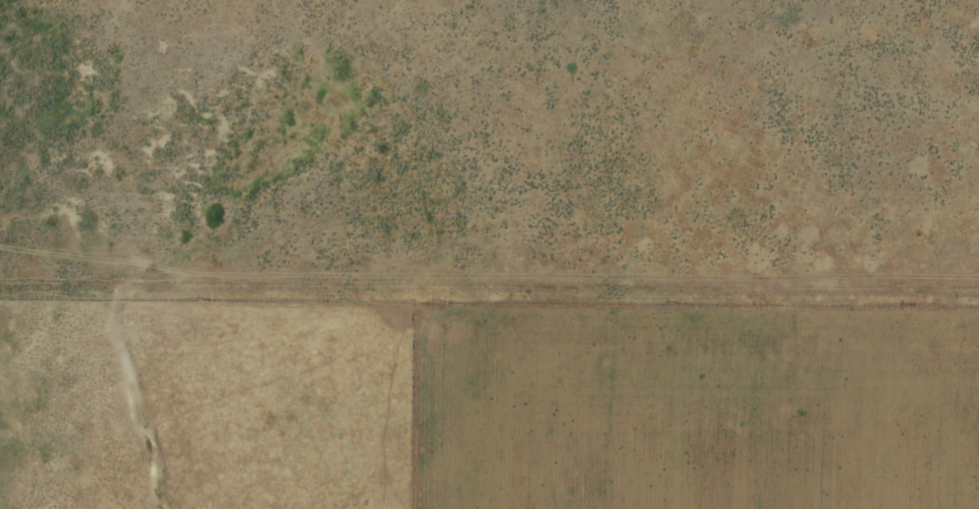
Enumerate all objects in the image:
crop: (489, 254)

